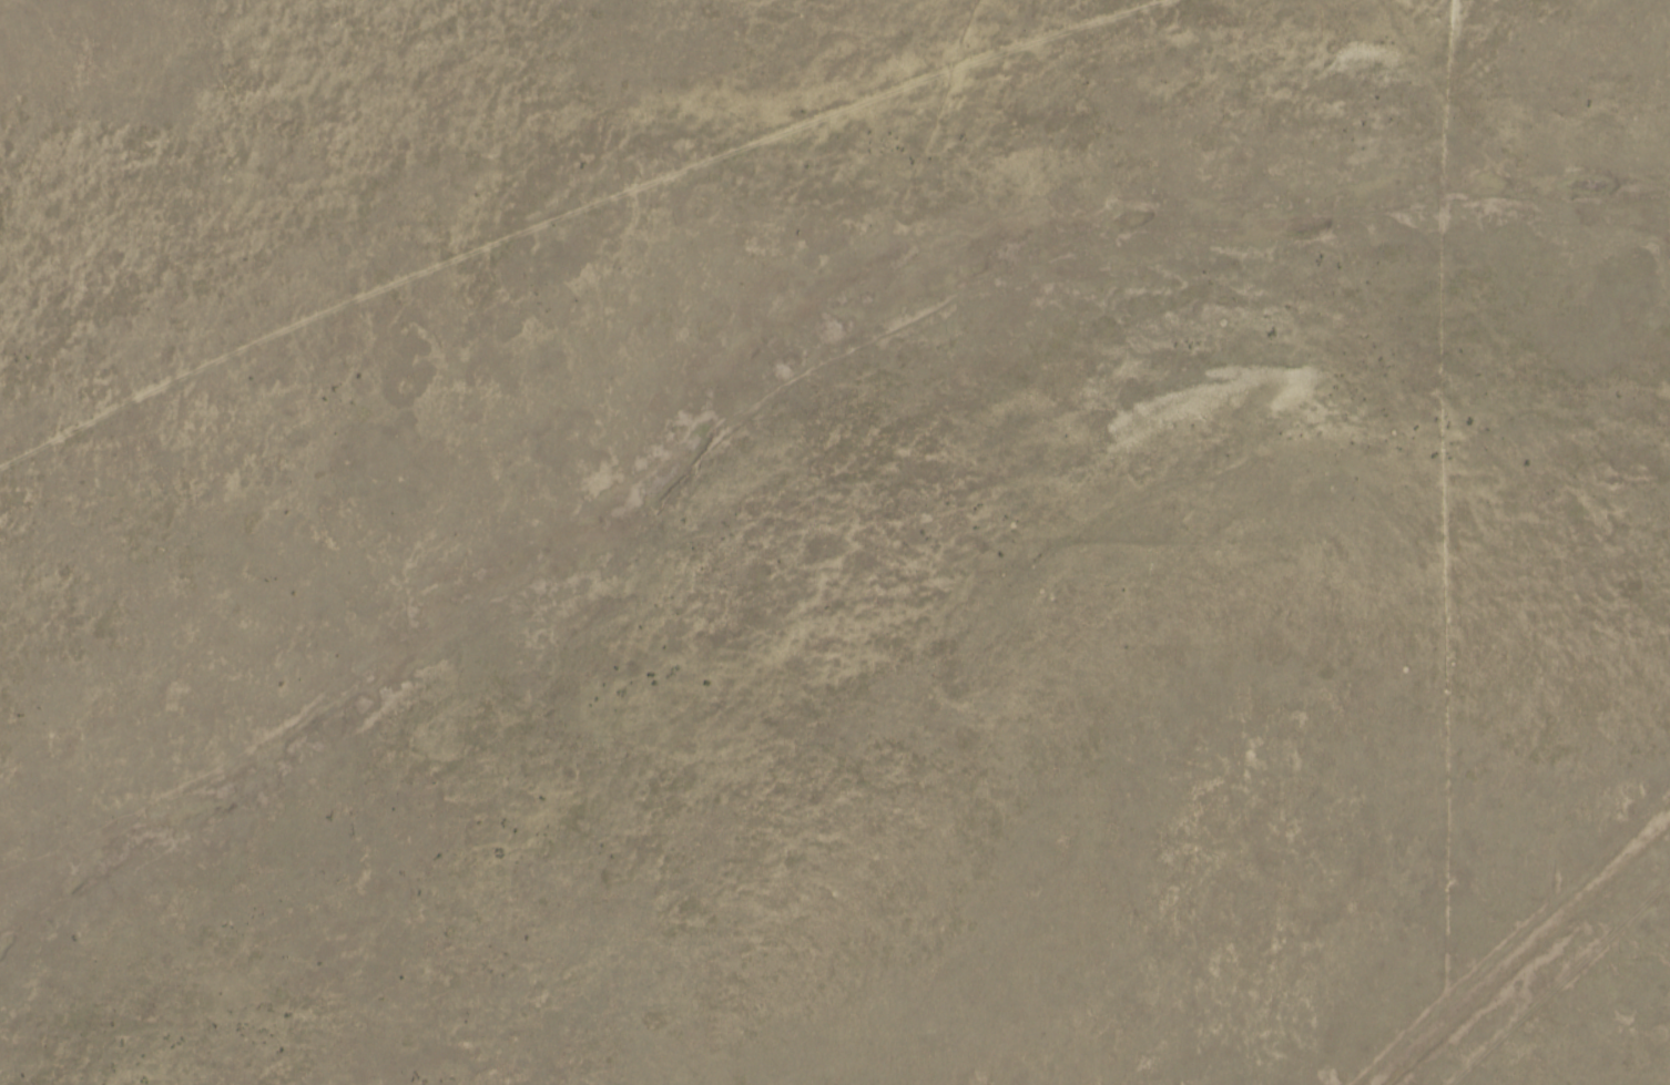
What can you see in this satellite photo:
road: (1507, 948)

